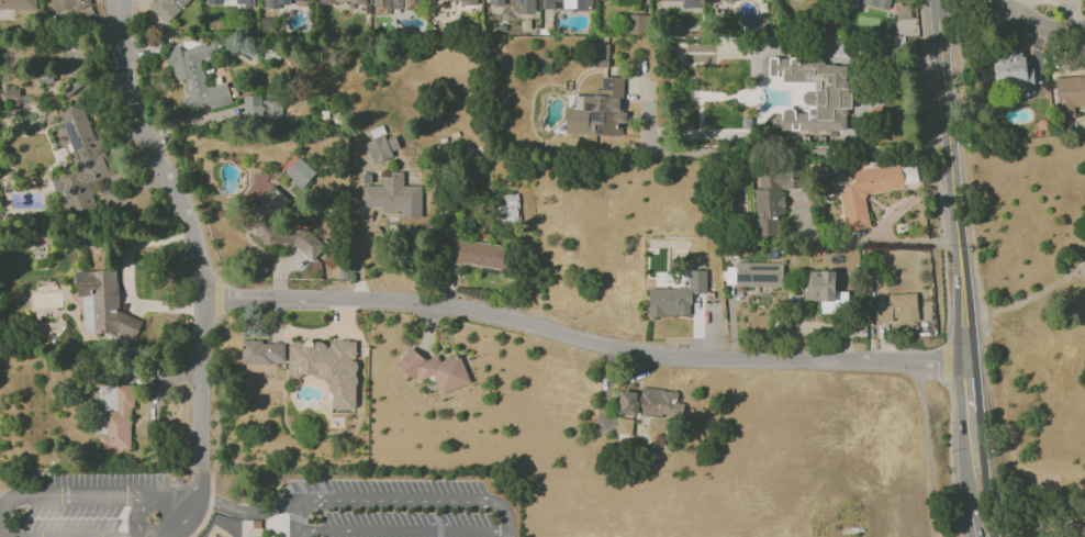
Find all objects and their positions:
building: (728, 0)
building: (325, 1)
building: (360, 1)
building: (461, 1)
building: (215, 2)
building: (279, 2)
building: (495, 2)
building: (245, 3)
building: (877, 3)
building: (18, 4)
building: (413, 4)
building: (567, 4)
building: (68, 5)
building: (381, 5)
building: (526, 5)
building: (166, 8)
road: (1011, 14)
building: (637, 23)
building: (1010, 70)
building: (197, 77)
building: (10, 92)
building: (813, 93)
building: (1070, 94)
building: (260, 110)
building: (597, 110)
building: (382, 147)
road: (768, 153)
building: (80, 164)
road: (935, 171)
building: (299, 172)
road: (951, 179)
road: (358, 188)
building: (872, 190)
building: (393, 195)
building: (773, 198)
building: (508, 209)
building: (260, 224)
road: (189, 228)
road: (877, 230)
road: (825, 238)
building: (476, 254)
road: (977, 272)
building: (759, 273)
road: (127, 277)
building: (676, 297)
building: (102, 303)
building: (896, 307)
road: (545, 337)
road: (582, 339)
building: (262, 351)
road: (946, 362)
building: (327, 367)
building: (436, 370)
road: (969, 385)
building: (650, 403)
building: (114, 415)
building: (624, 429)
road: (930, 448)
road: (974, 450)
road: (198, 482)
road: (79, 494)
road: (1056, 497)
park: (1042, 499)
road: (416, 501)
road: (246, 511)
road: (981, 512)
road: (139, 515)
road: (295, 517)
road: (184, 519)
road: (297, 519)
road: (286, 522)
road: (438, 524)
road: (401, 529)

